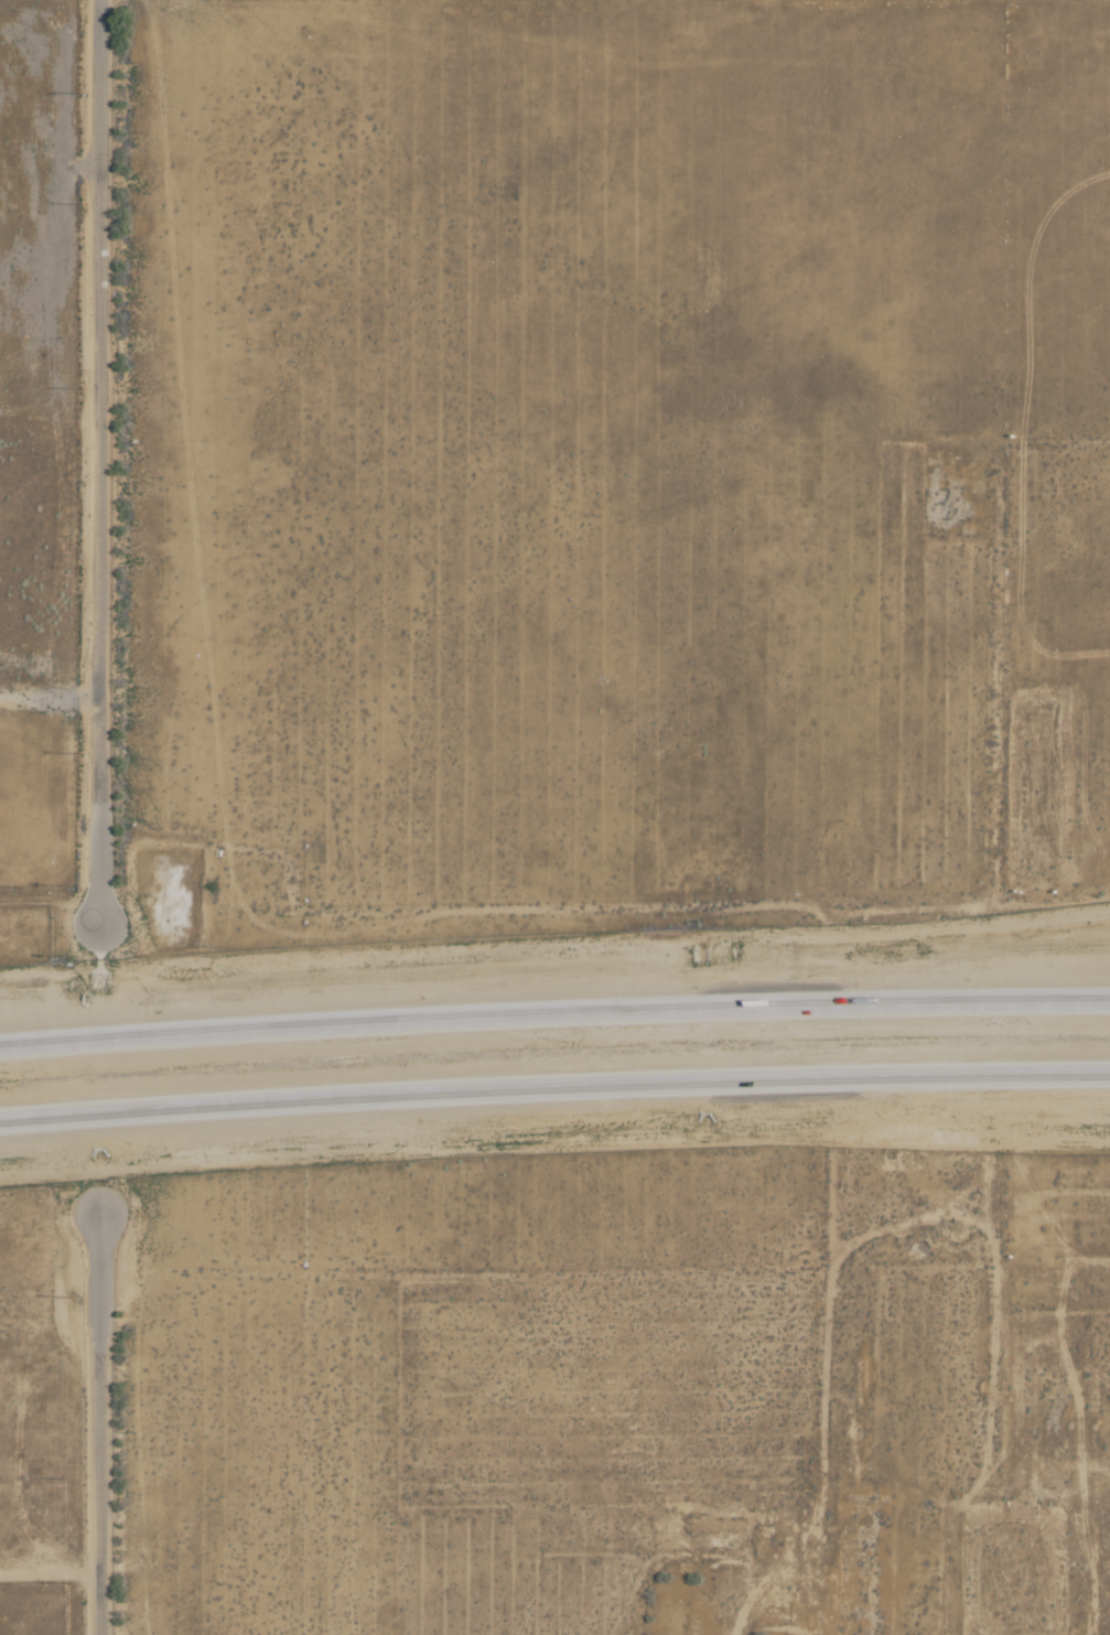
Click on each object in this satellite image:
road: (97, 463)
road: (554, 1014)
road: (554, 1087)
road: (101, 1423)

